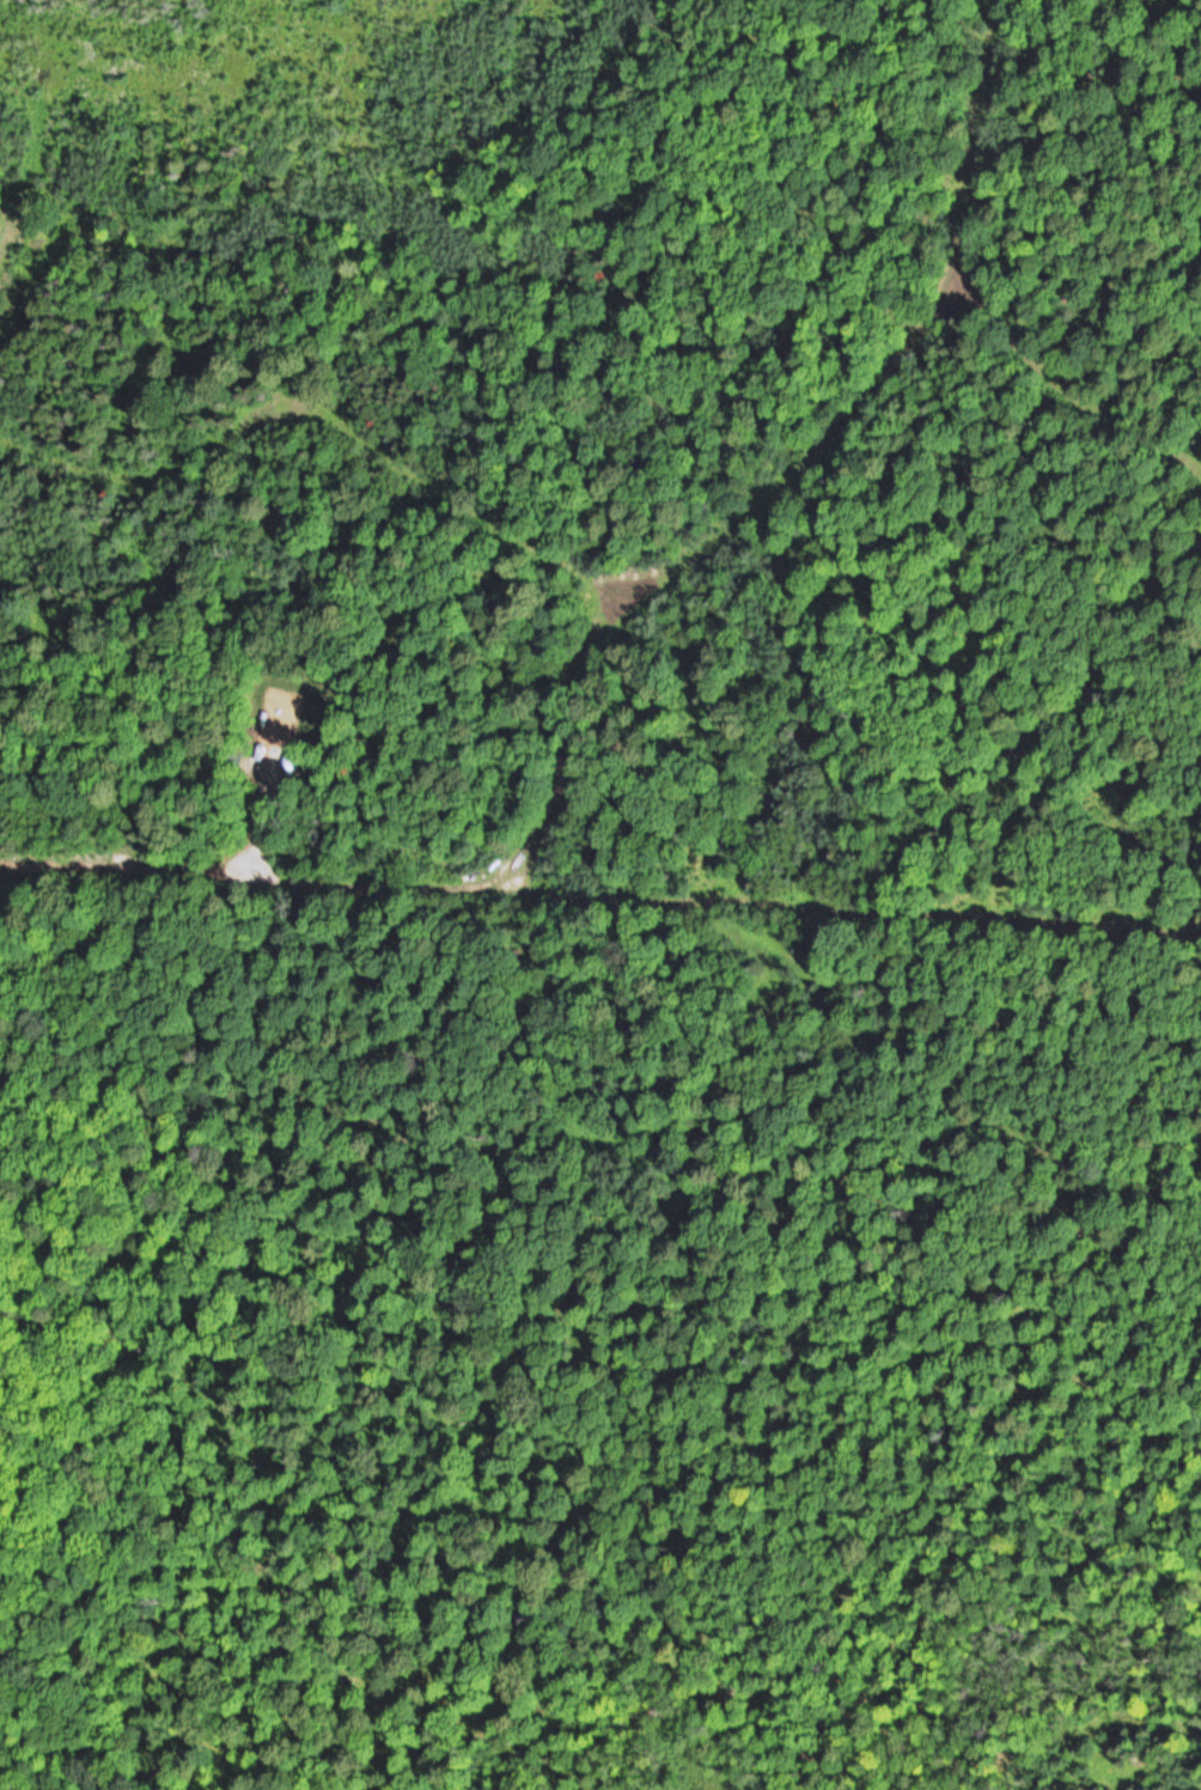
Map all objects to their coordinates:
road: (236, 881)

